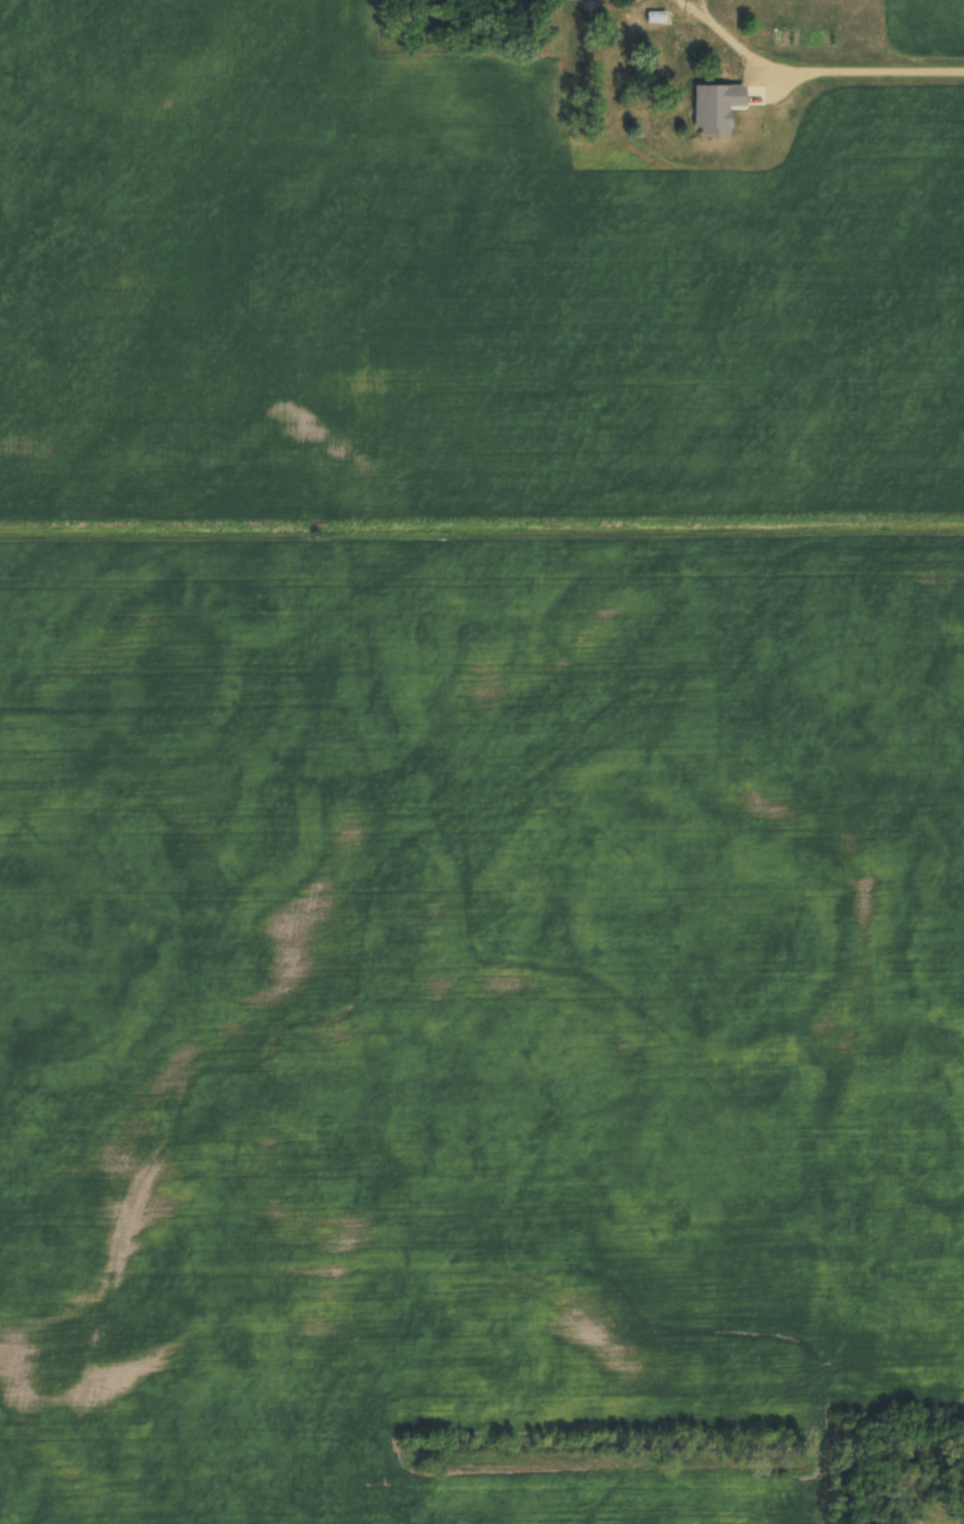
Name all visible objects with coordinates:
building: (657, 15)
road: (697, 16)
road: (825, 71)
building: (720, 106)

